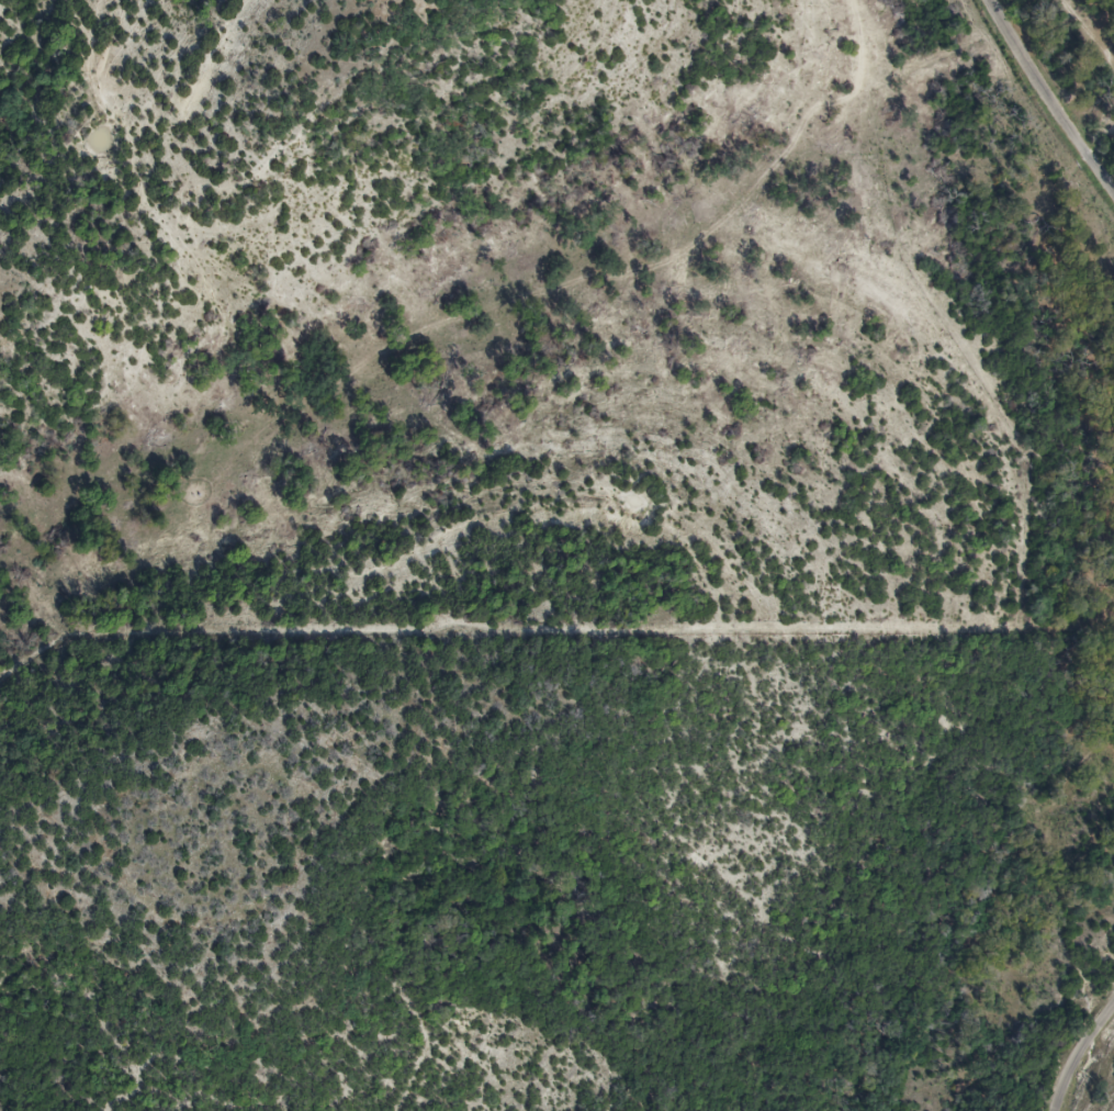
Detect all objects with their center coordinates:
road: (1047, 98)
road: (1079, 1053)

